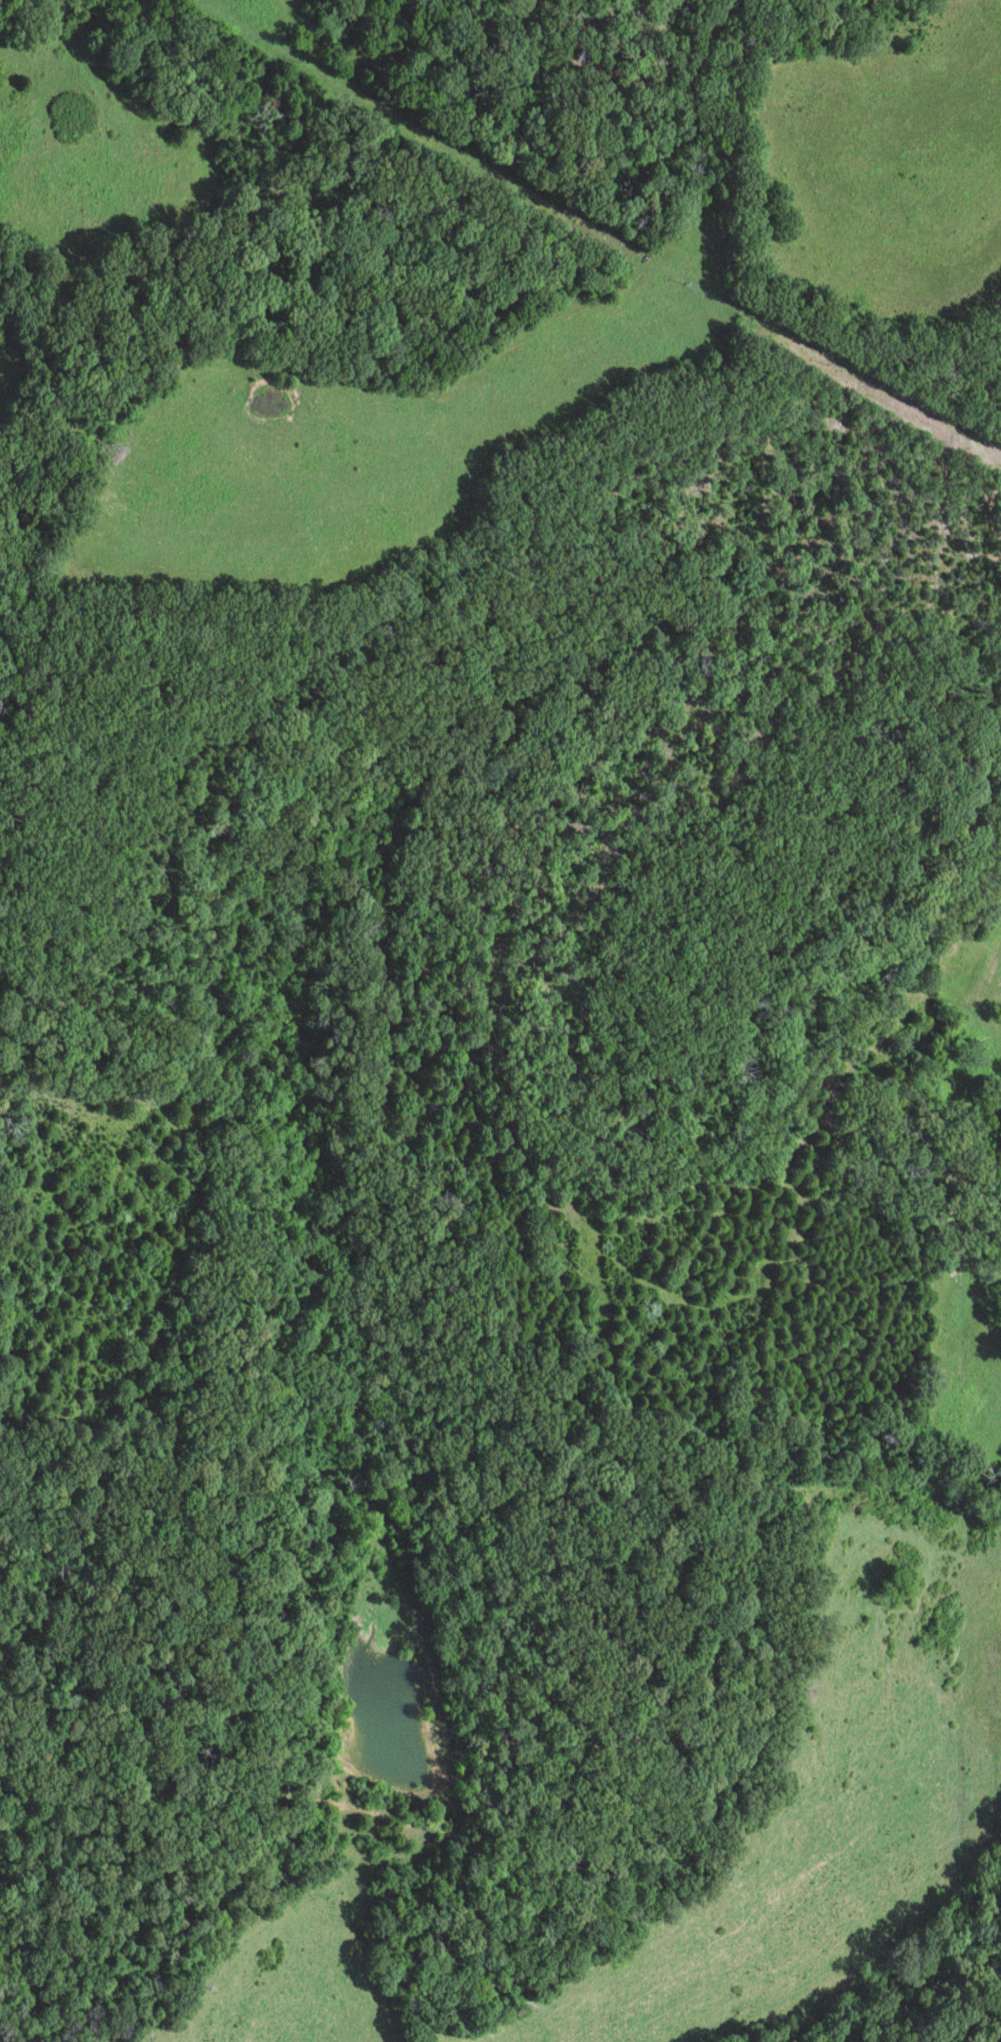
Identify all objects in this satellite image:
road: (753, 57)
road: (990, 726)
road: (716, 894)

